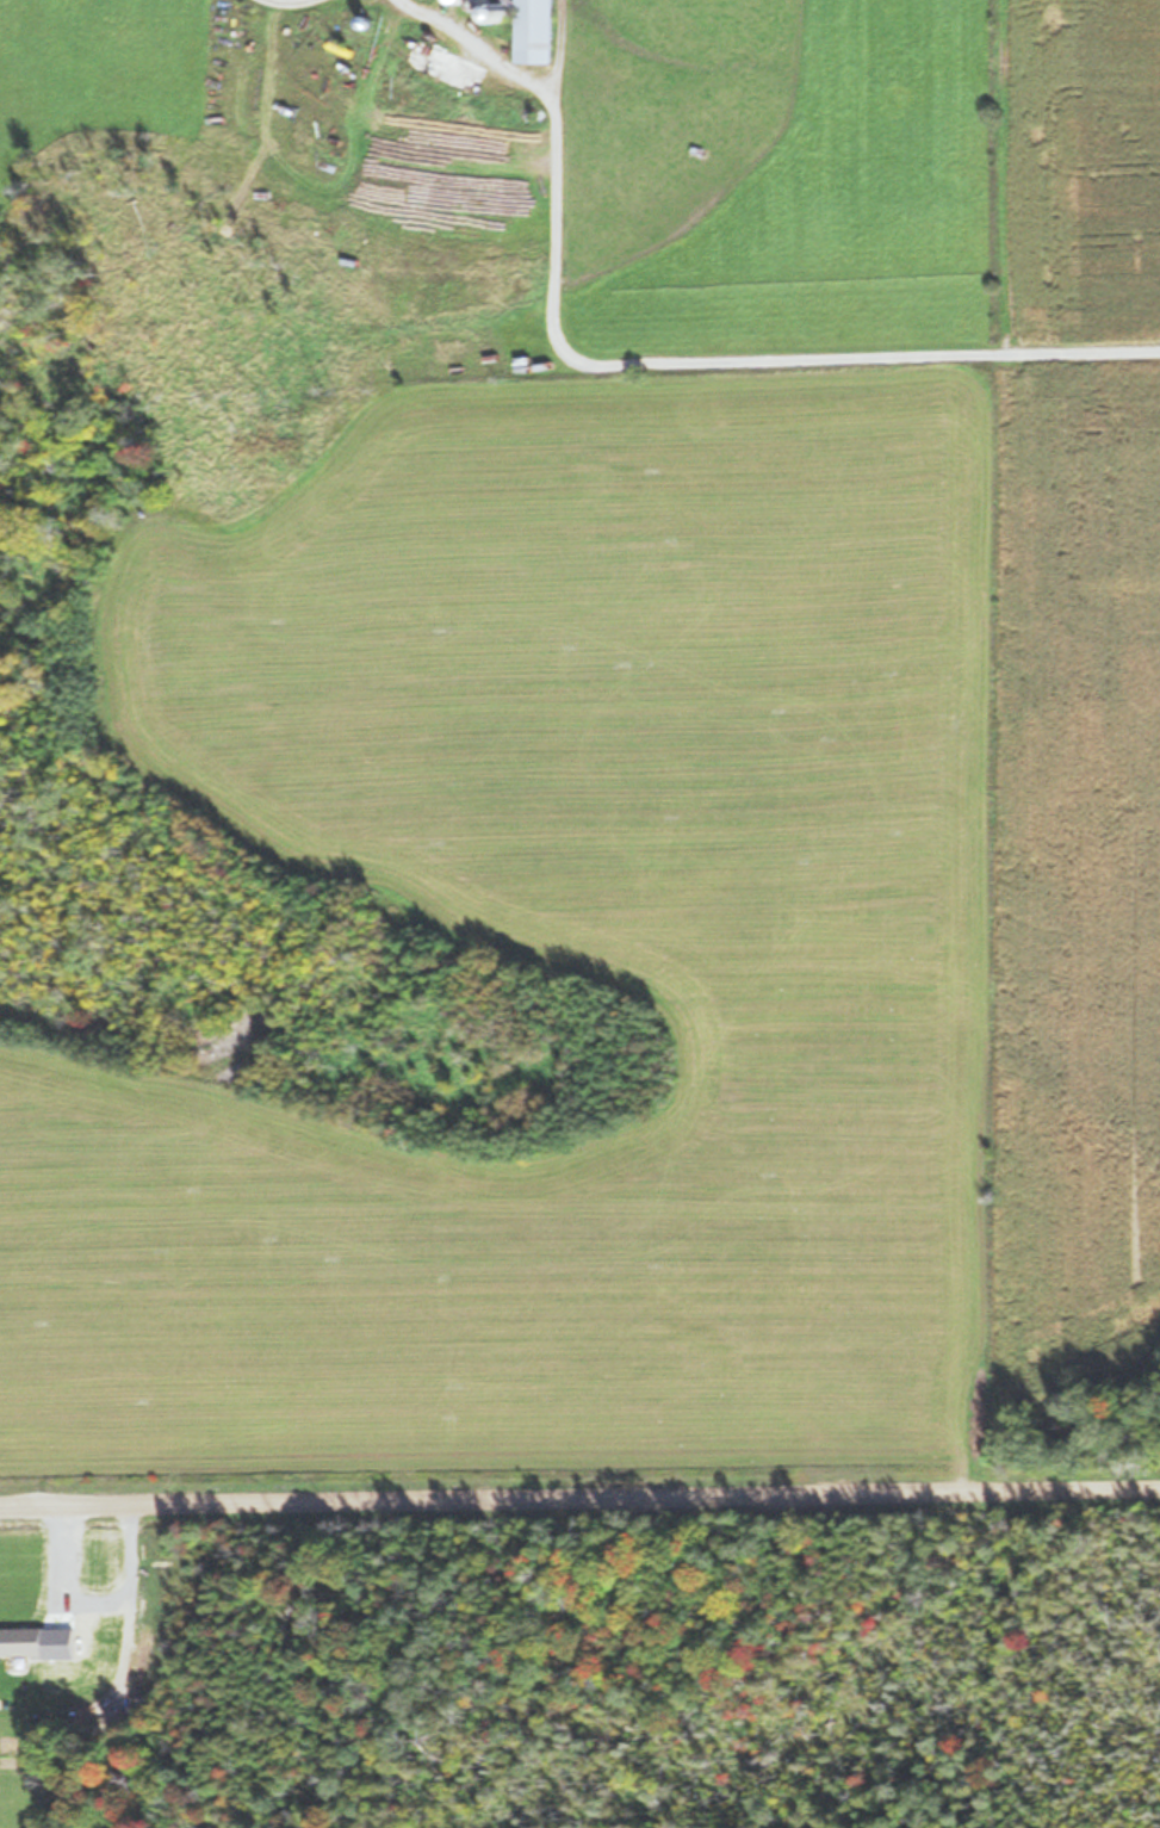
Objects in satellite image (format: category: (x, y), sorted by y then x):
road: (286, 1)
building: (528, 27)
road: (640, 366)
road: (579, 1494)

